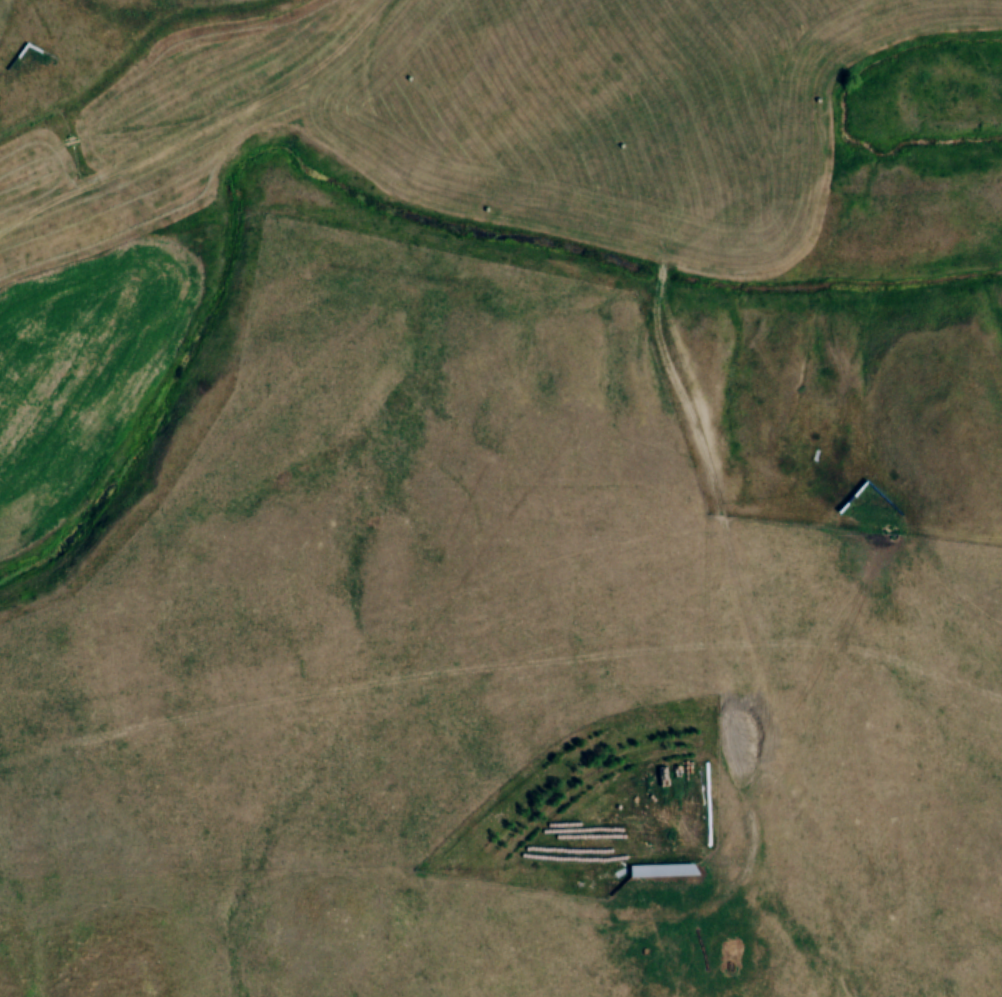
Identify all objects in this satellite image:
building: (660, 877)

